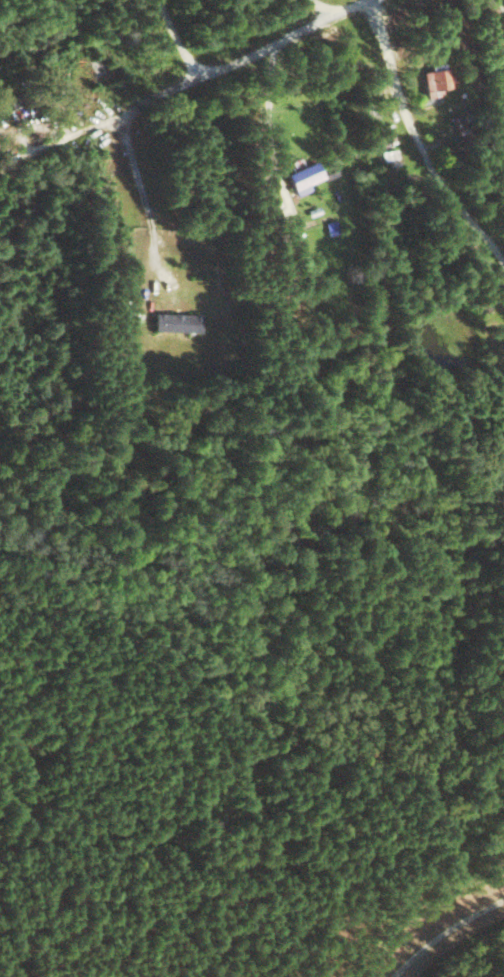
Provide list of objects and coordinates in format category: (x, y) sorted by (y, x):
road: (321, 6)
road: (177, 40)
building: (437, 81)
road: (180, 87)
road: (429, 138)
building: (305, 176)
road: (144, 193)
building: (178, 321)

